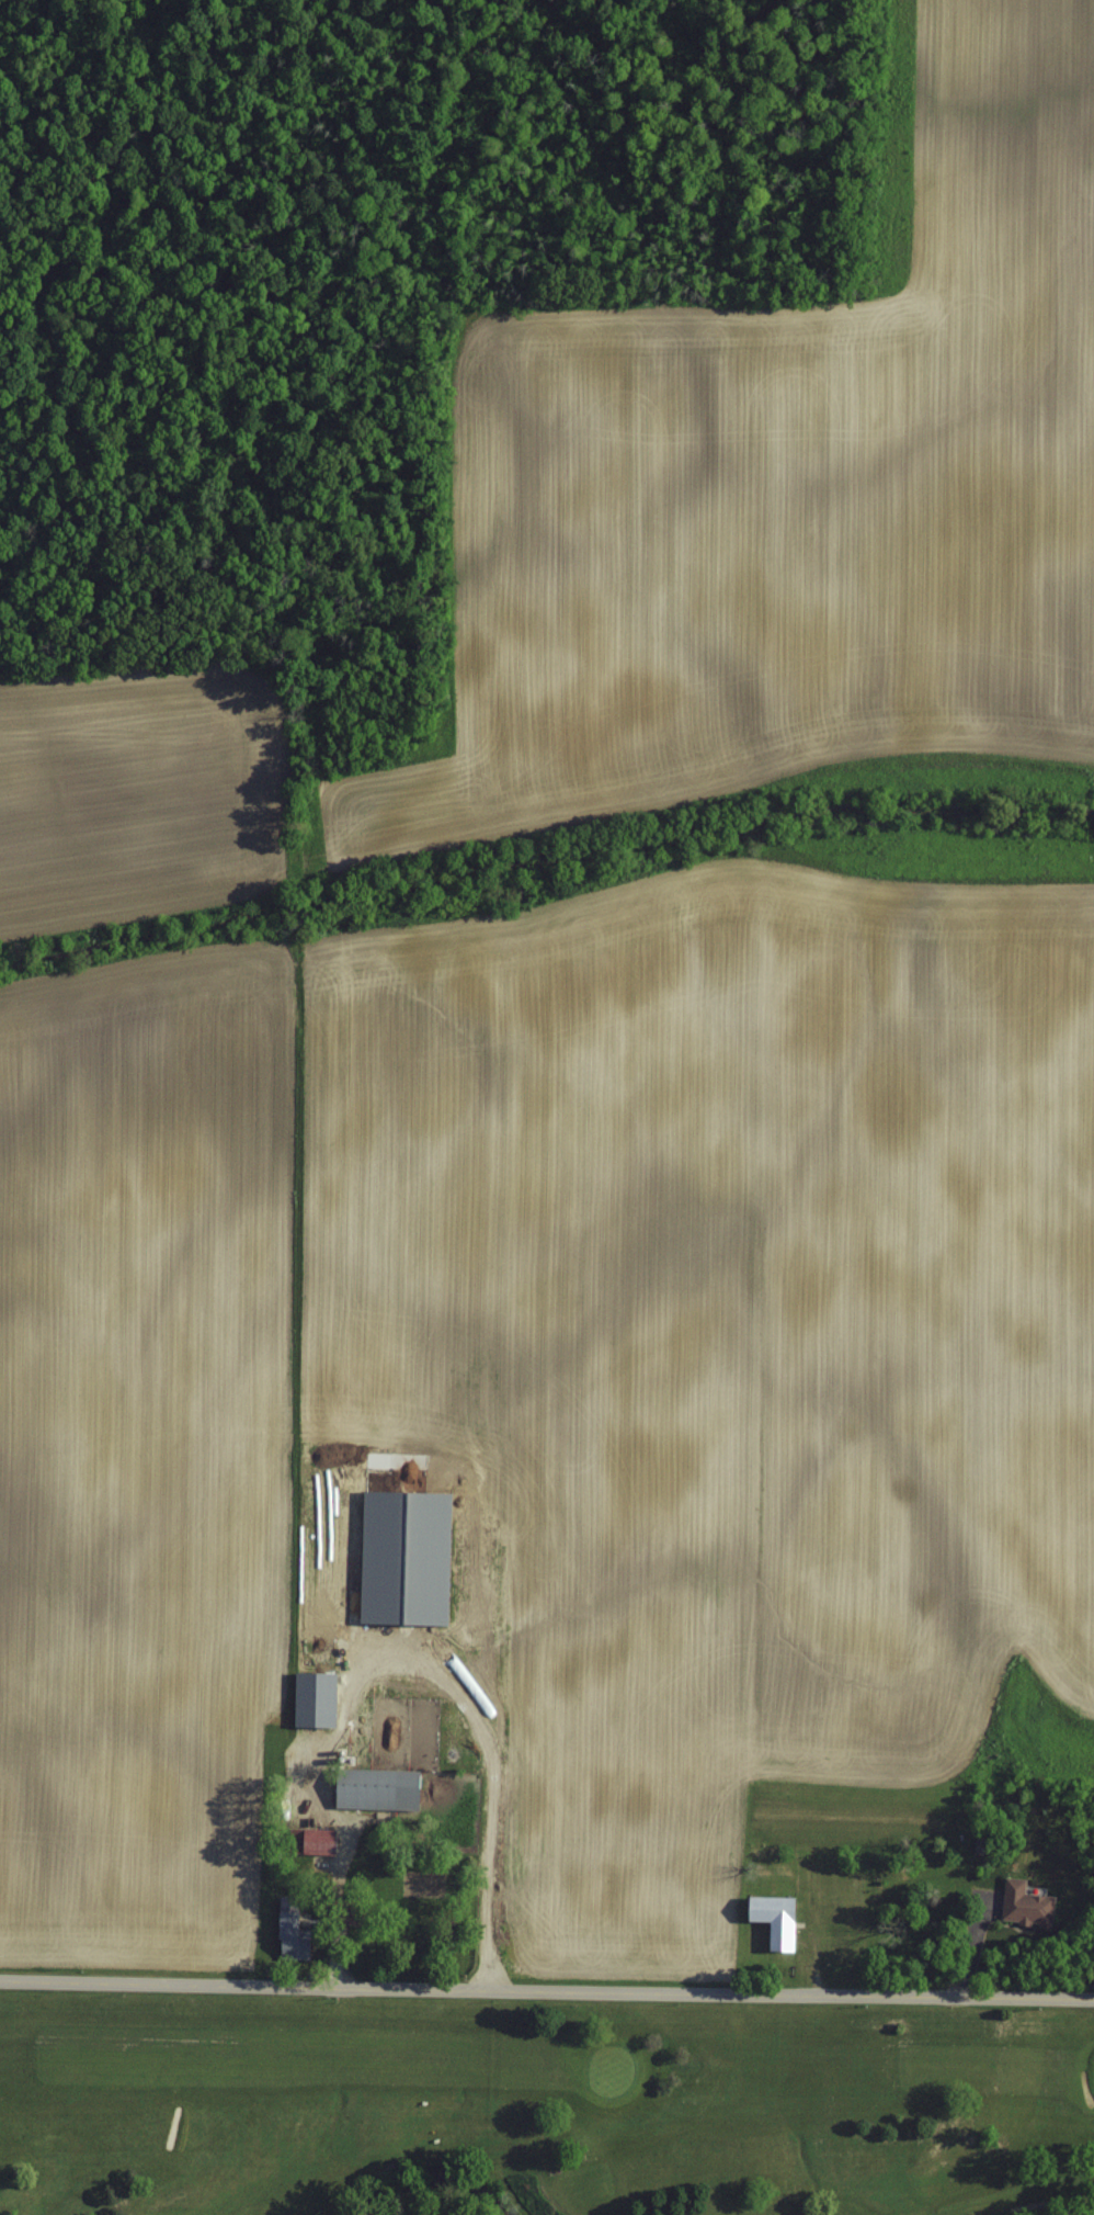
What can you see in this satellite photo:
road: (547, 1990)
river: (452, 2166)

